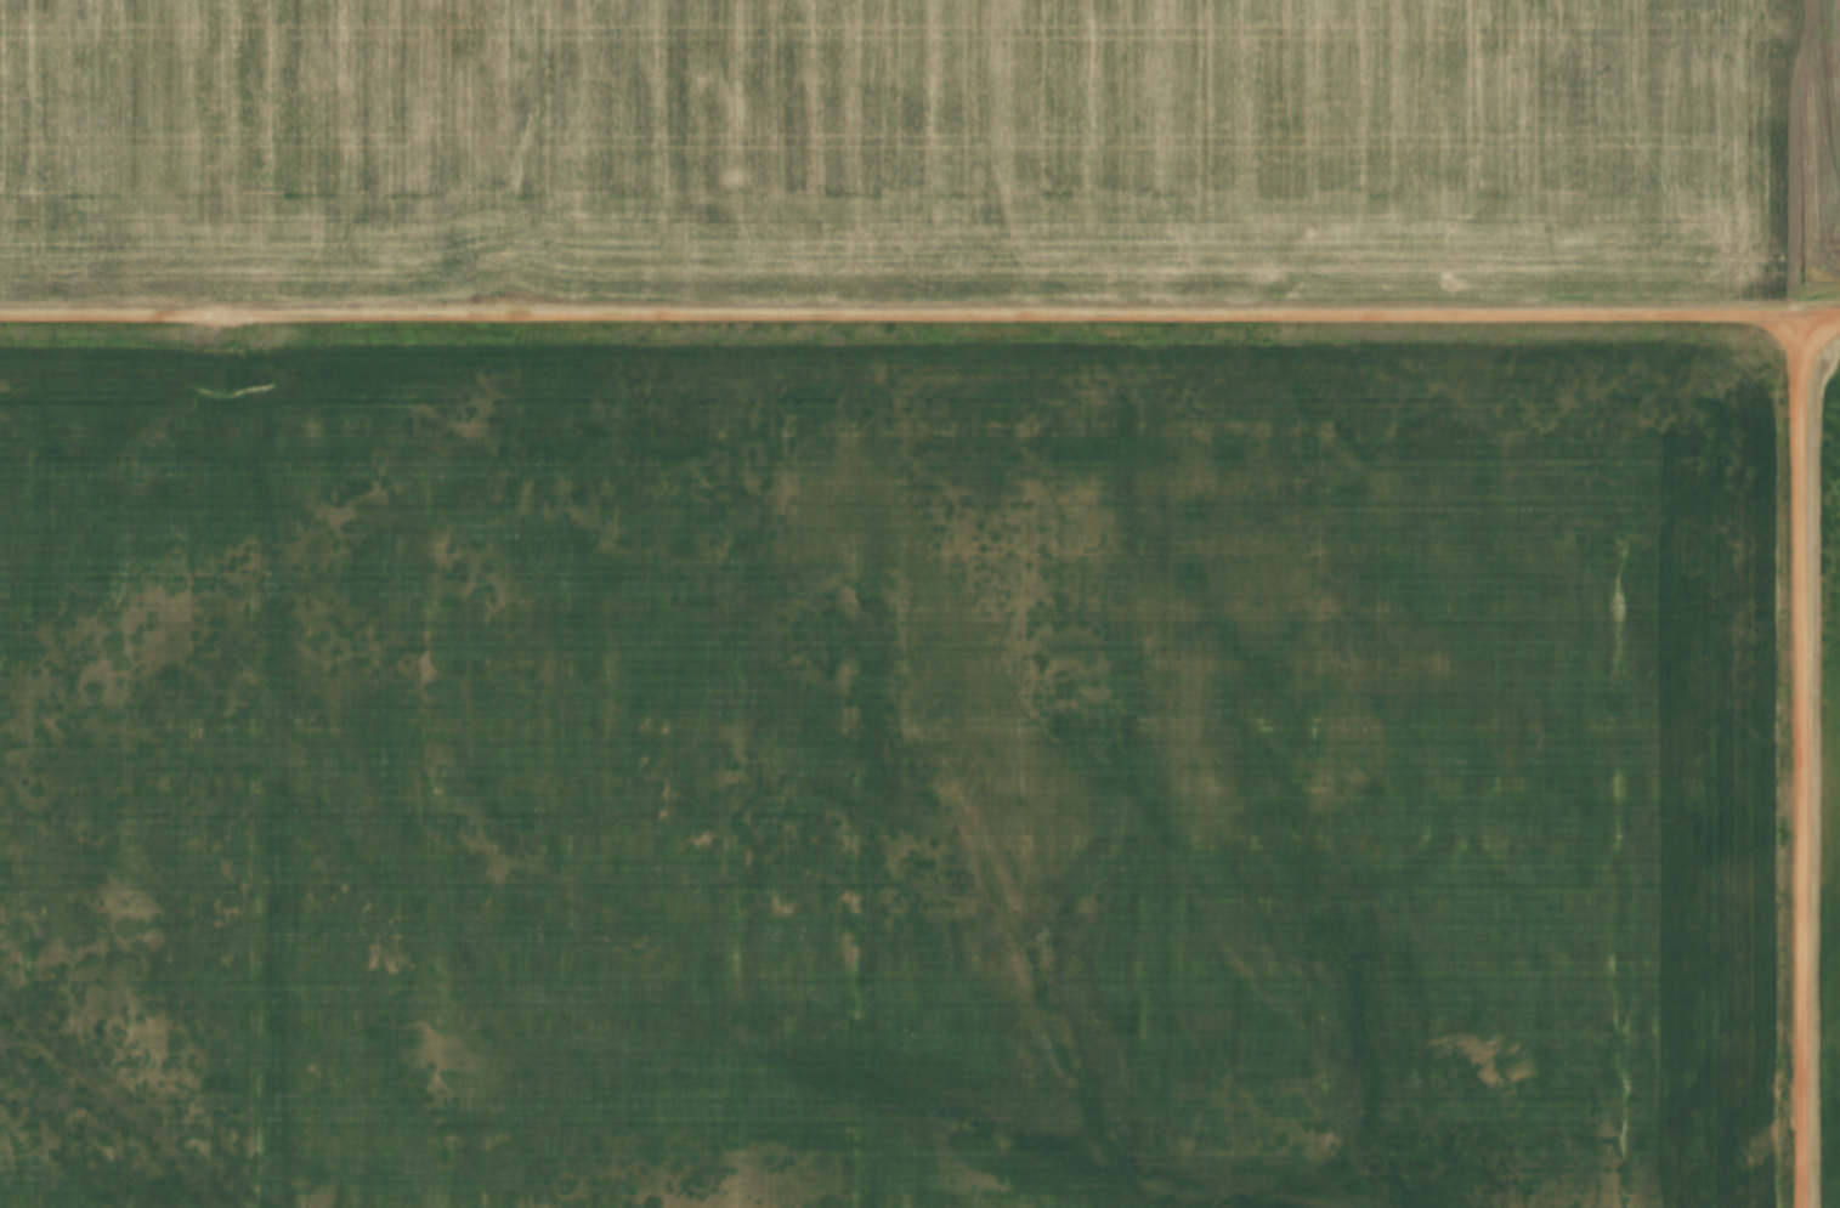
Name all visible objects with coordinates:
road: (919, 317)
road: (1806, 761)

